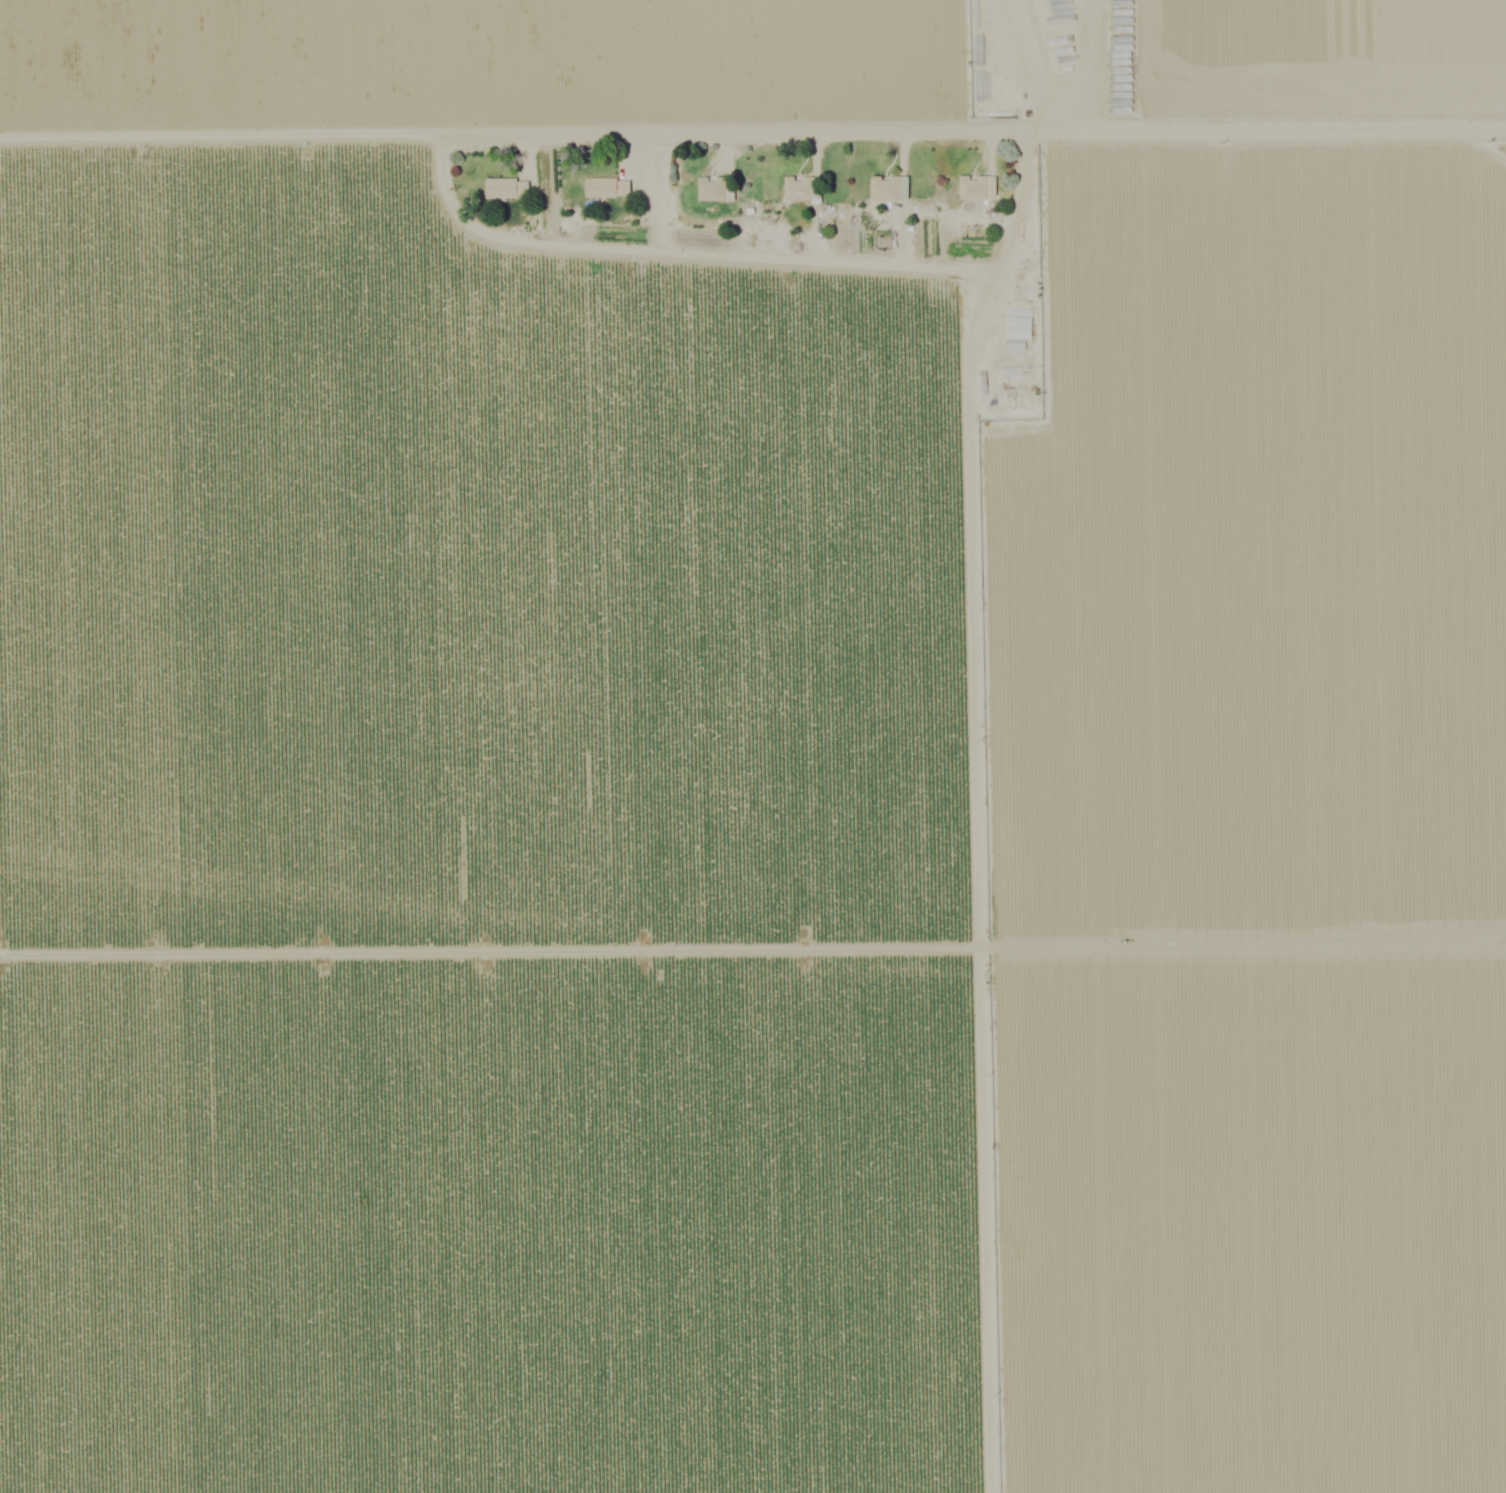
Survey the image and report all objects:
road: (1081, 37)
road: (1031, 48)
crop: (742, 54)
road: (1065, 101)
road: (753, 133)
building: (603, 186)
building: (502, 187)
building: (709, 187)
building: (793, 187)
building: (881, 187)
road: (749, 254)
crop: (752, 825)

